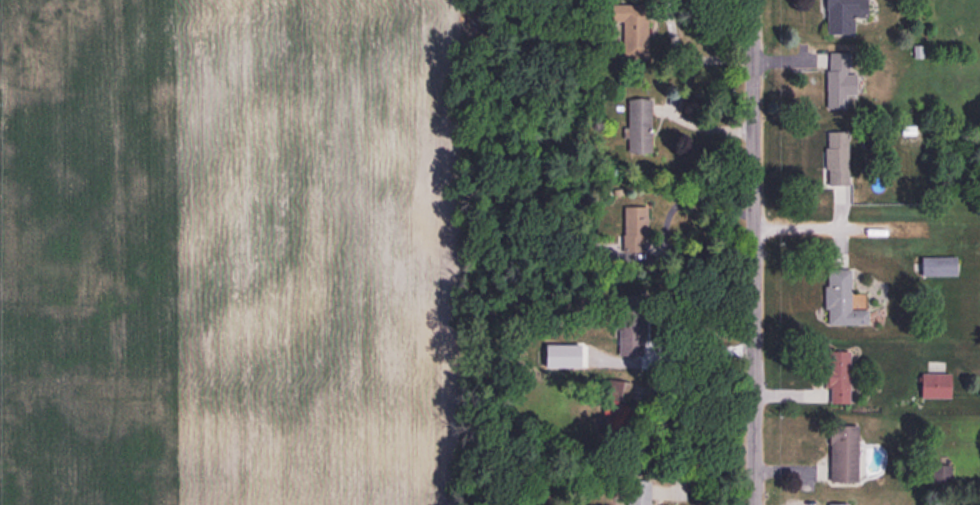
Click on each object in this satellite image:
building: (840, 15)
building: (632, 28)
road: (692, 55)
building: (838, 74)
building: (637, 120)
building: (833, 158)
building: (636, 224)
road: (831, 230)
road: (756, 252)
building: (937, 266)
building: (839, 300)
building: (836, 376)
building: (932, 385)
building: (840, 453)
building: (638, 492)

